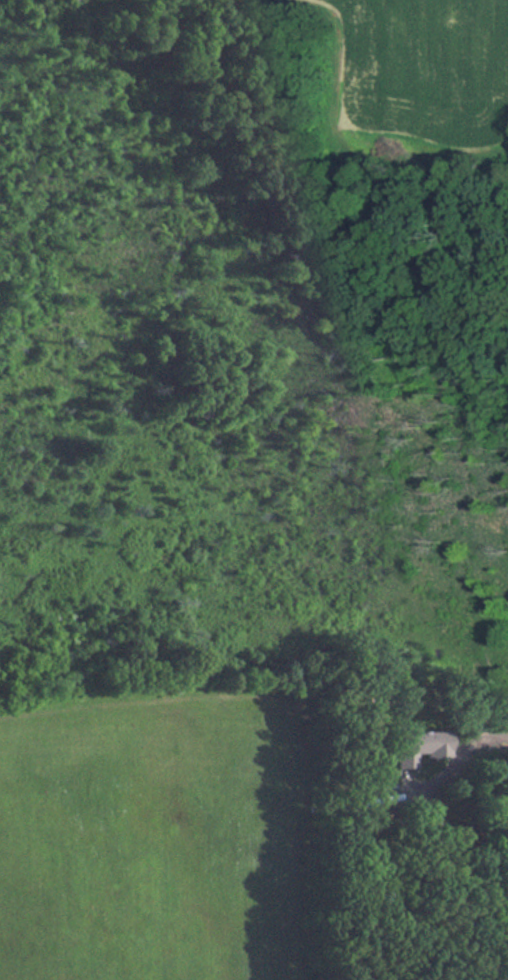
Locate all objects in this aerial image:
building: (417, 746)
road: (493, 758)

